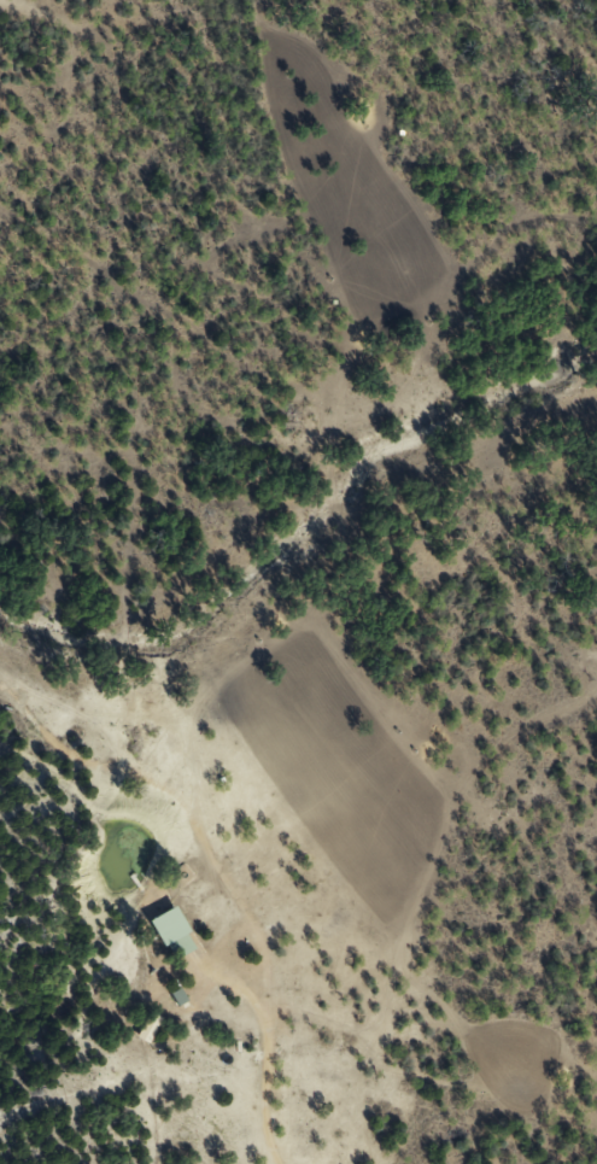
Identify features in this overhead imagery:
road: (224, 871)
building: (171, 926)

